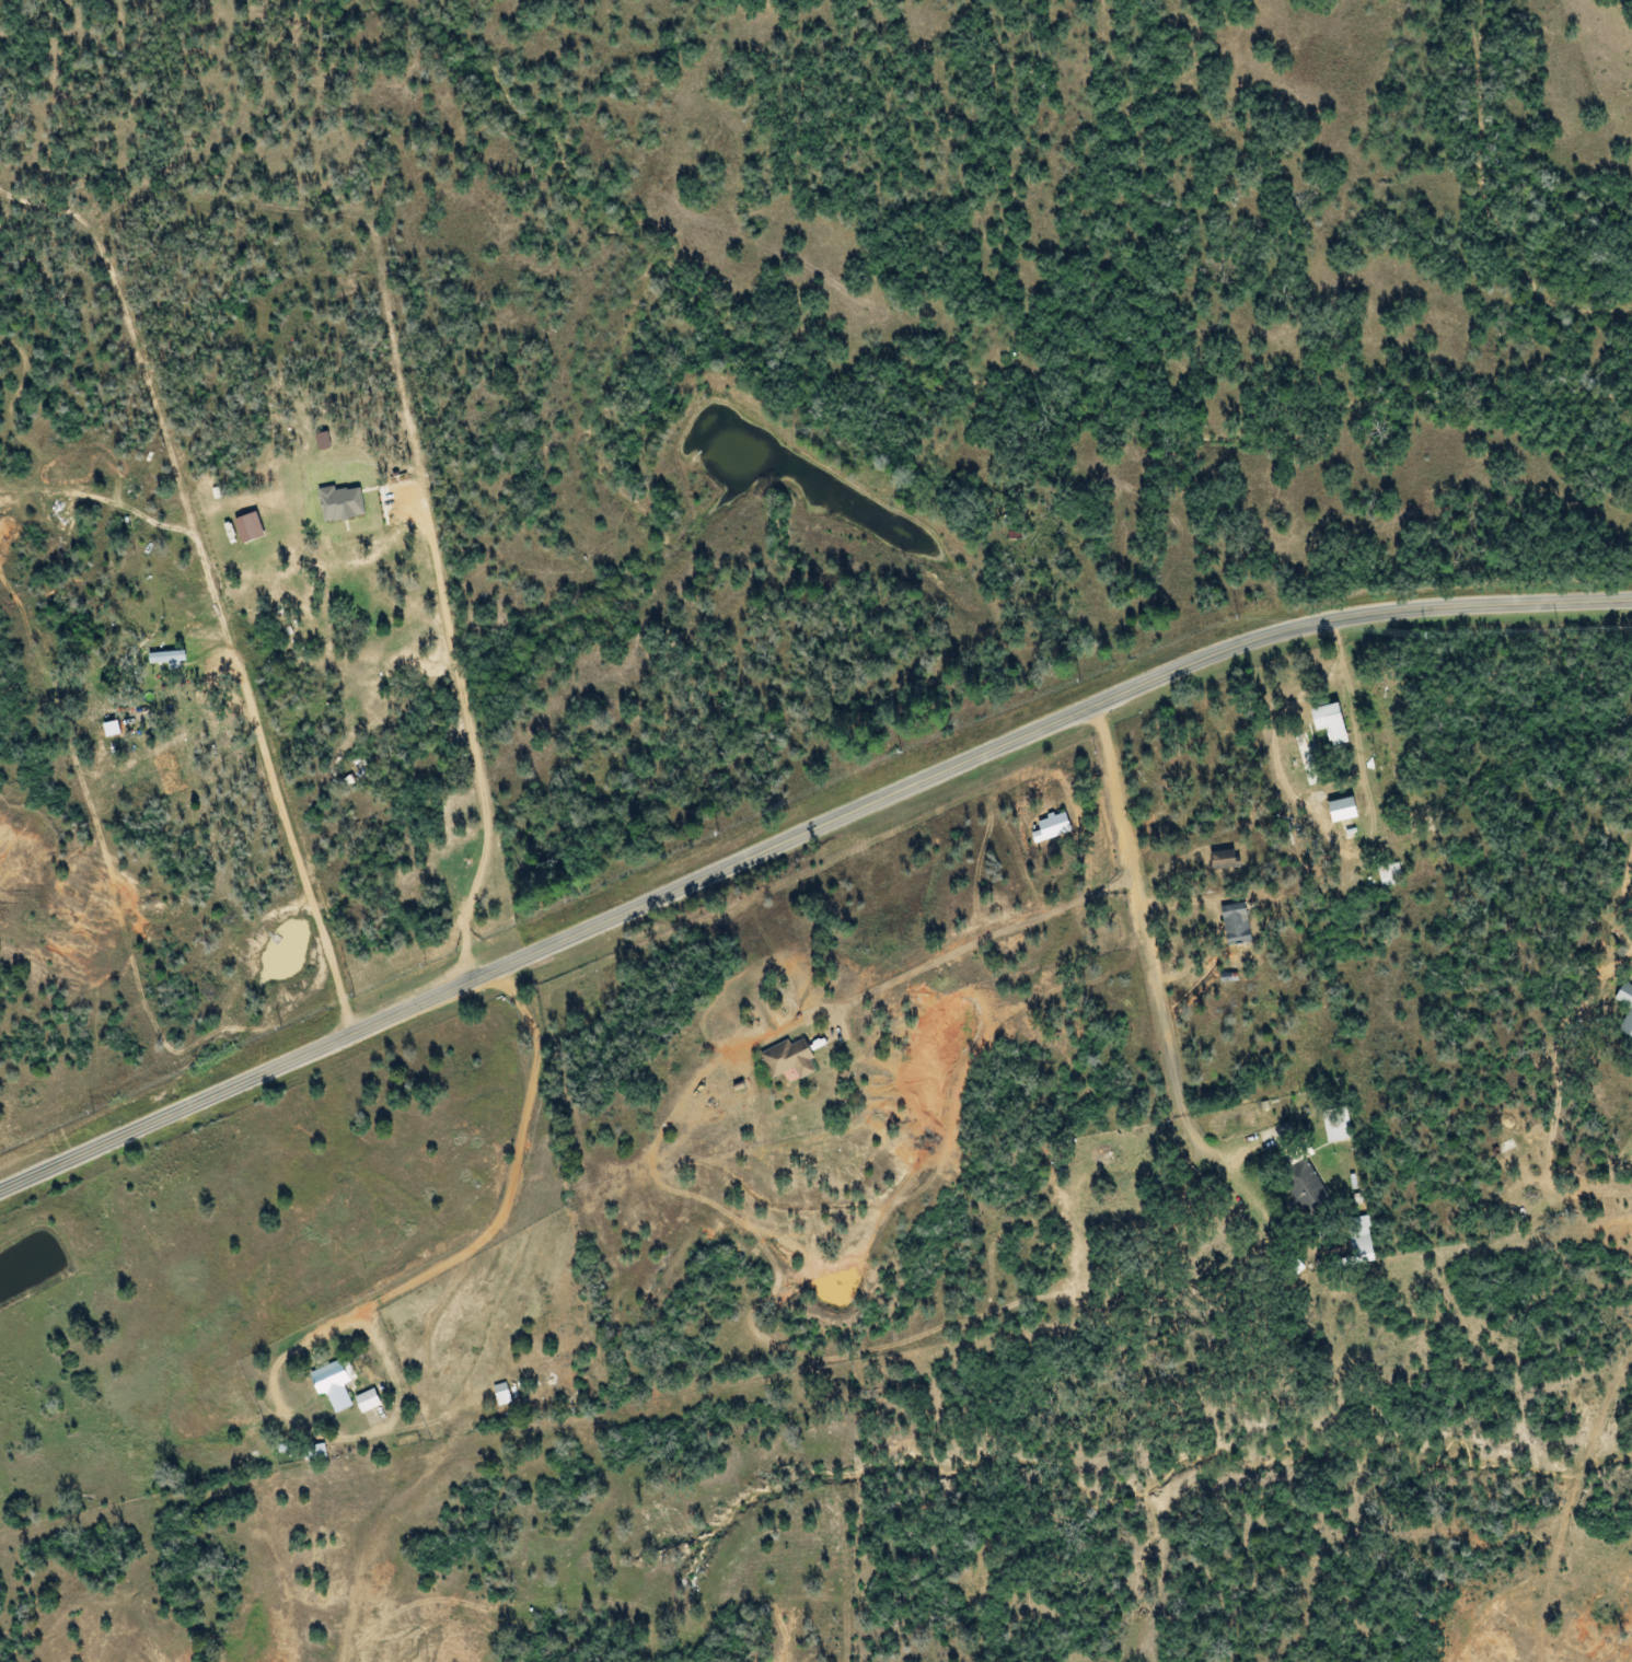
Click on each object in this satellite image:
building: (339, 503)
building: (247, 527)
building: (165, 658)
building: (1328, 722)
building: (109, 729)
road: (1549, 798)
building: (1340, 809)
building: (1050, 827)
road: (800, 837)
building: (1222, 859)
building: (1388, 875)
building: (1235, 923)
building: (1627, 1019)
road: (962, 1049)
building: (785, 1059)
building: (1303, 1185)
building: (1359, 1240)
road: (264, 1291)
building: (333, 1383)
building: (500, 1395)
building: (366, 1402)
building: (317, 1452)

